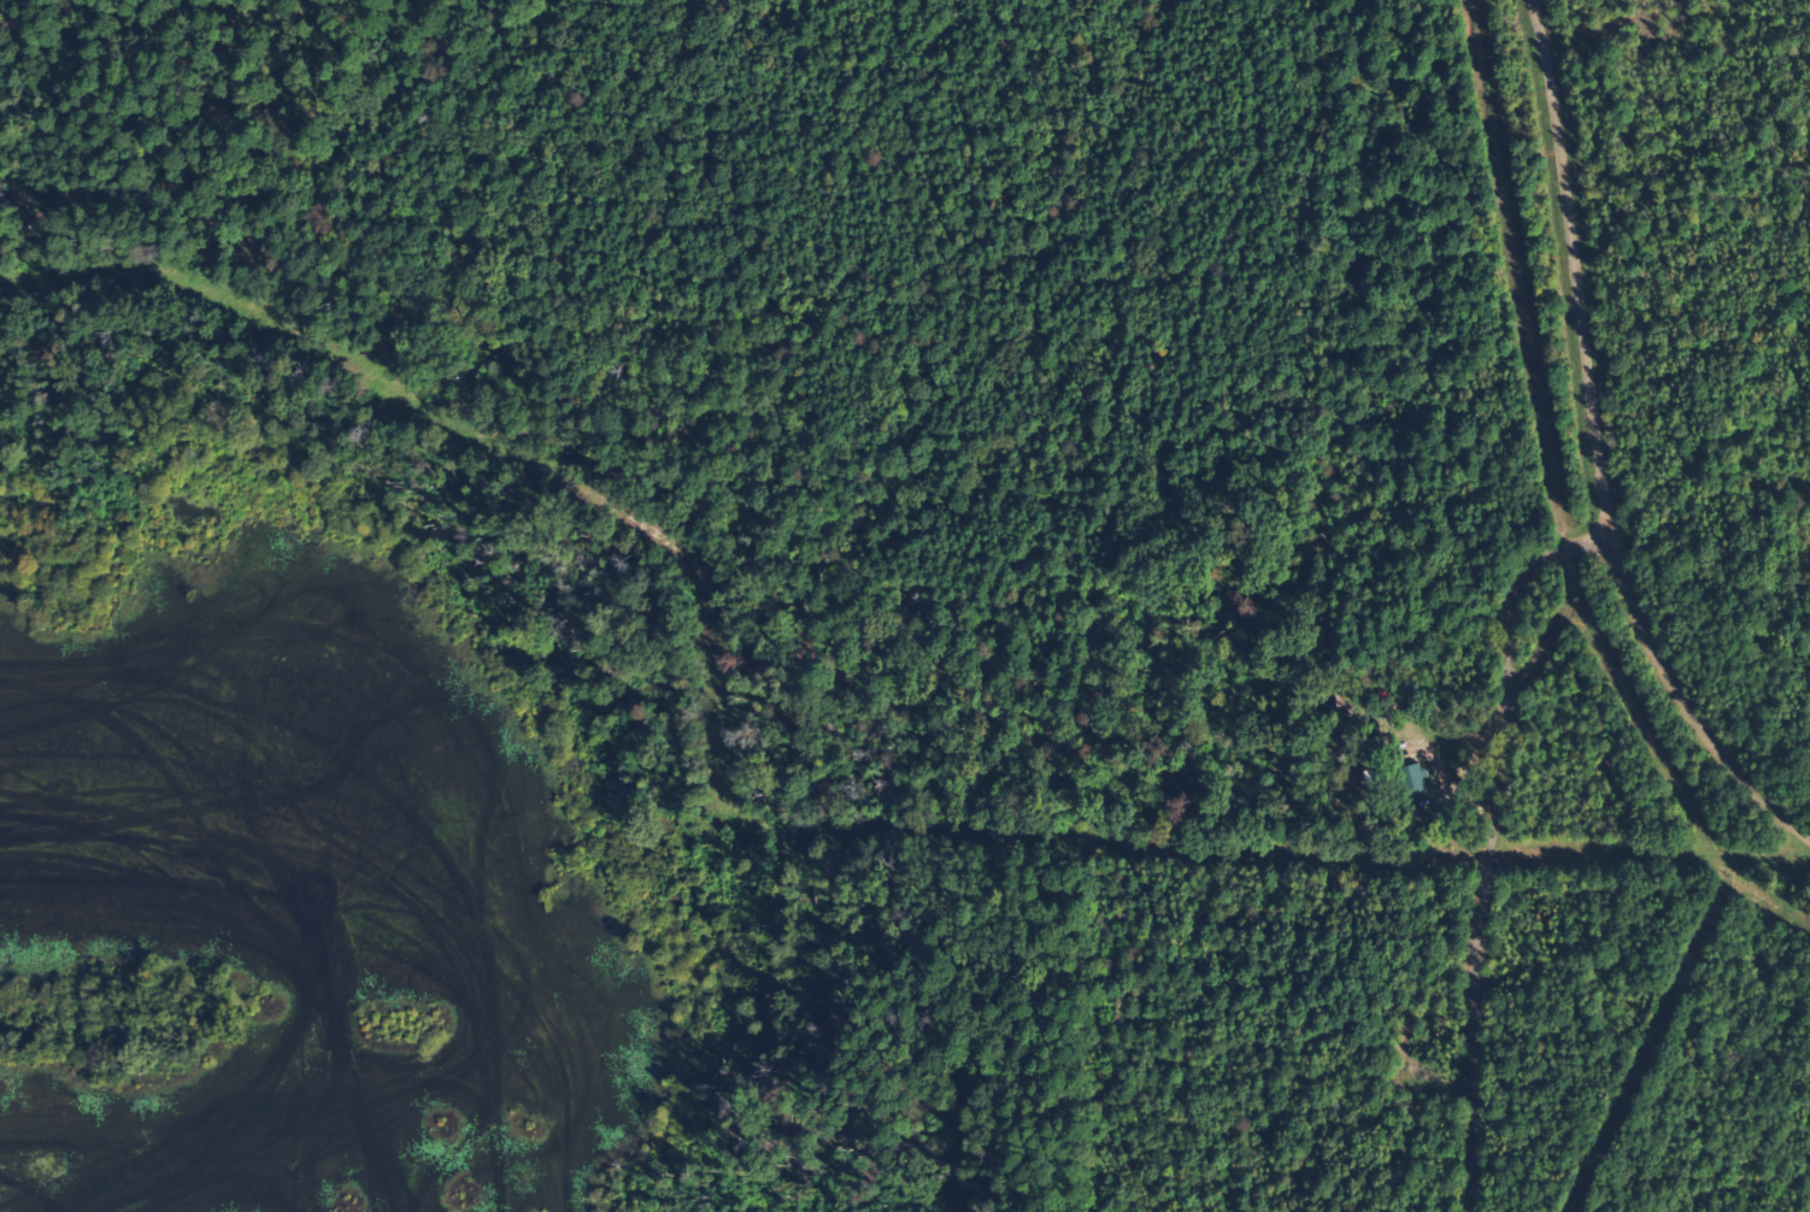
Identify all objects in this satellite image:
road: (1545, 28)
road: (1589, 296)
road: (1687, 702)
road: (1492, 846)

